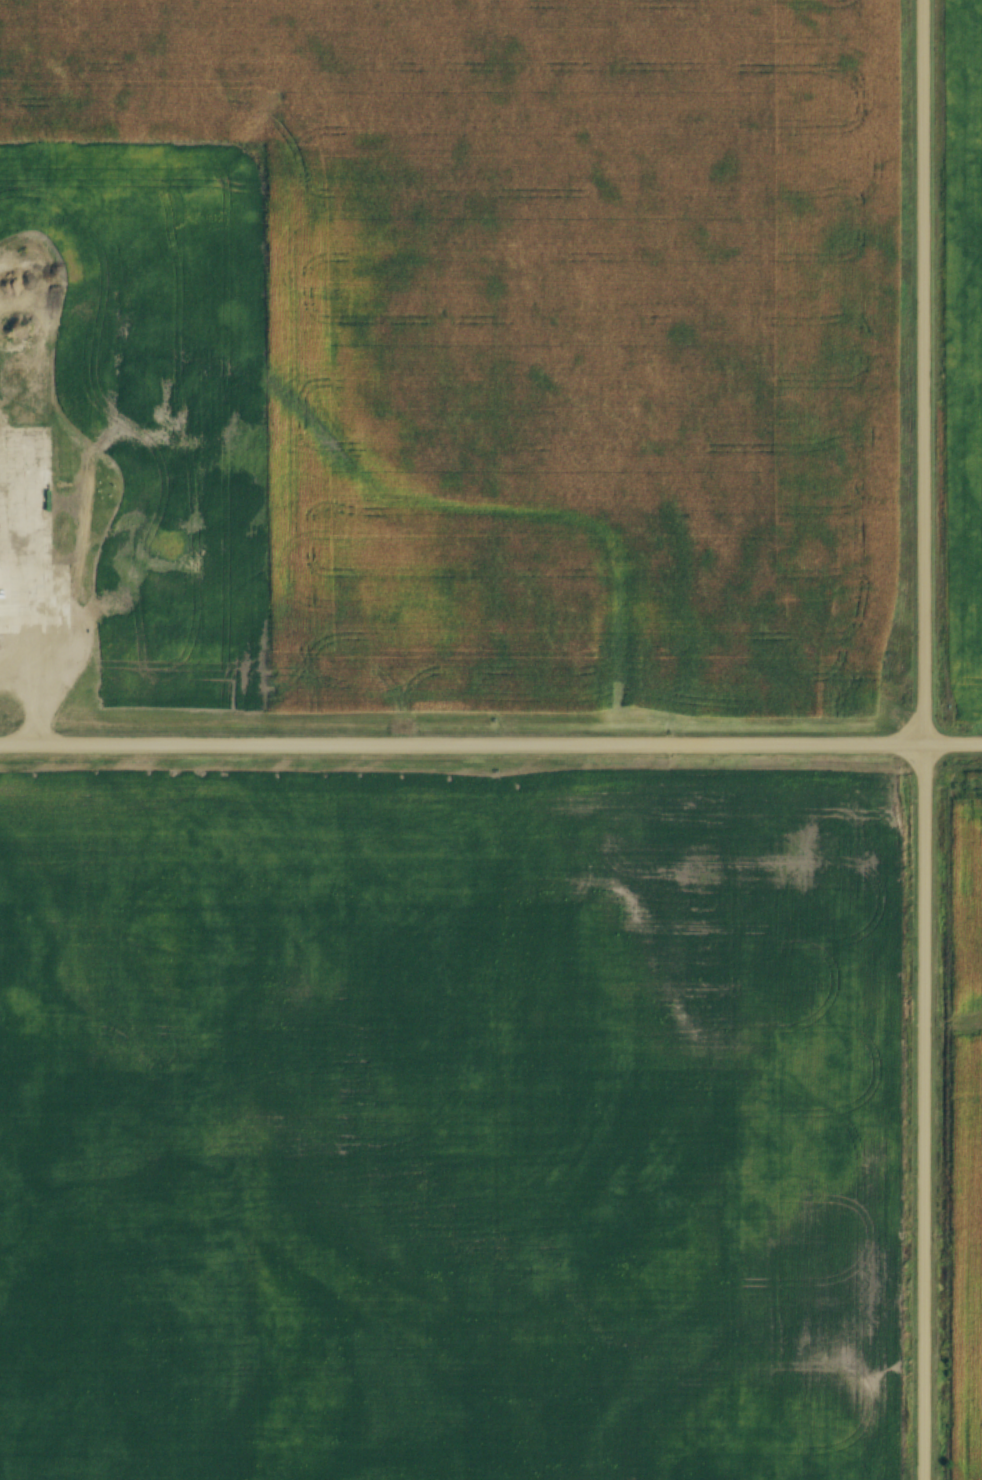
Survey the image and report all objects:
building: (0, 584)
road: (32, 711)
road: (927, 739)
road: (491, 749)

